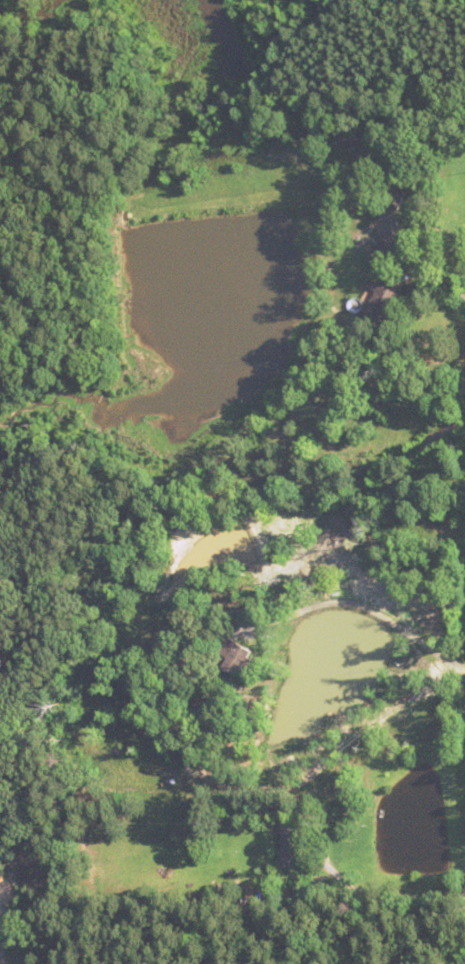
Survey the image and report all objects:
building: (356, 138)
building: (392, 196)
building: (382, 250)
building: (385, 296)
building: (237, 657)
building: (291, 847)

